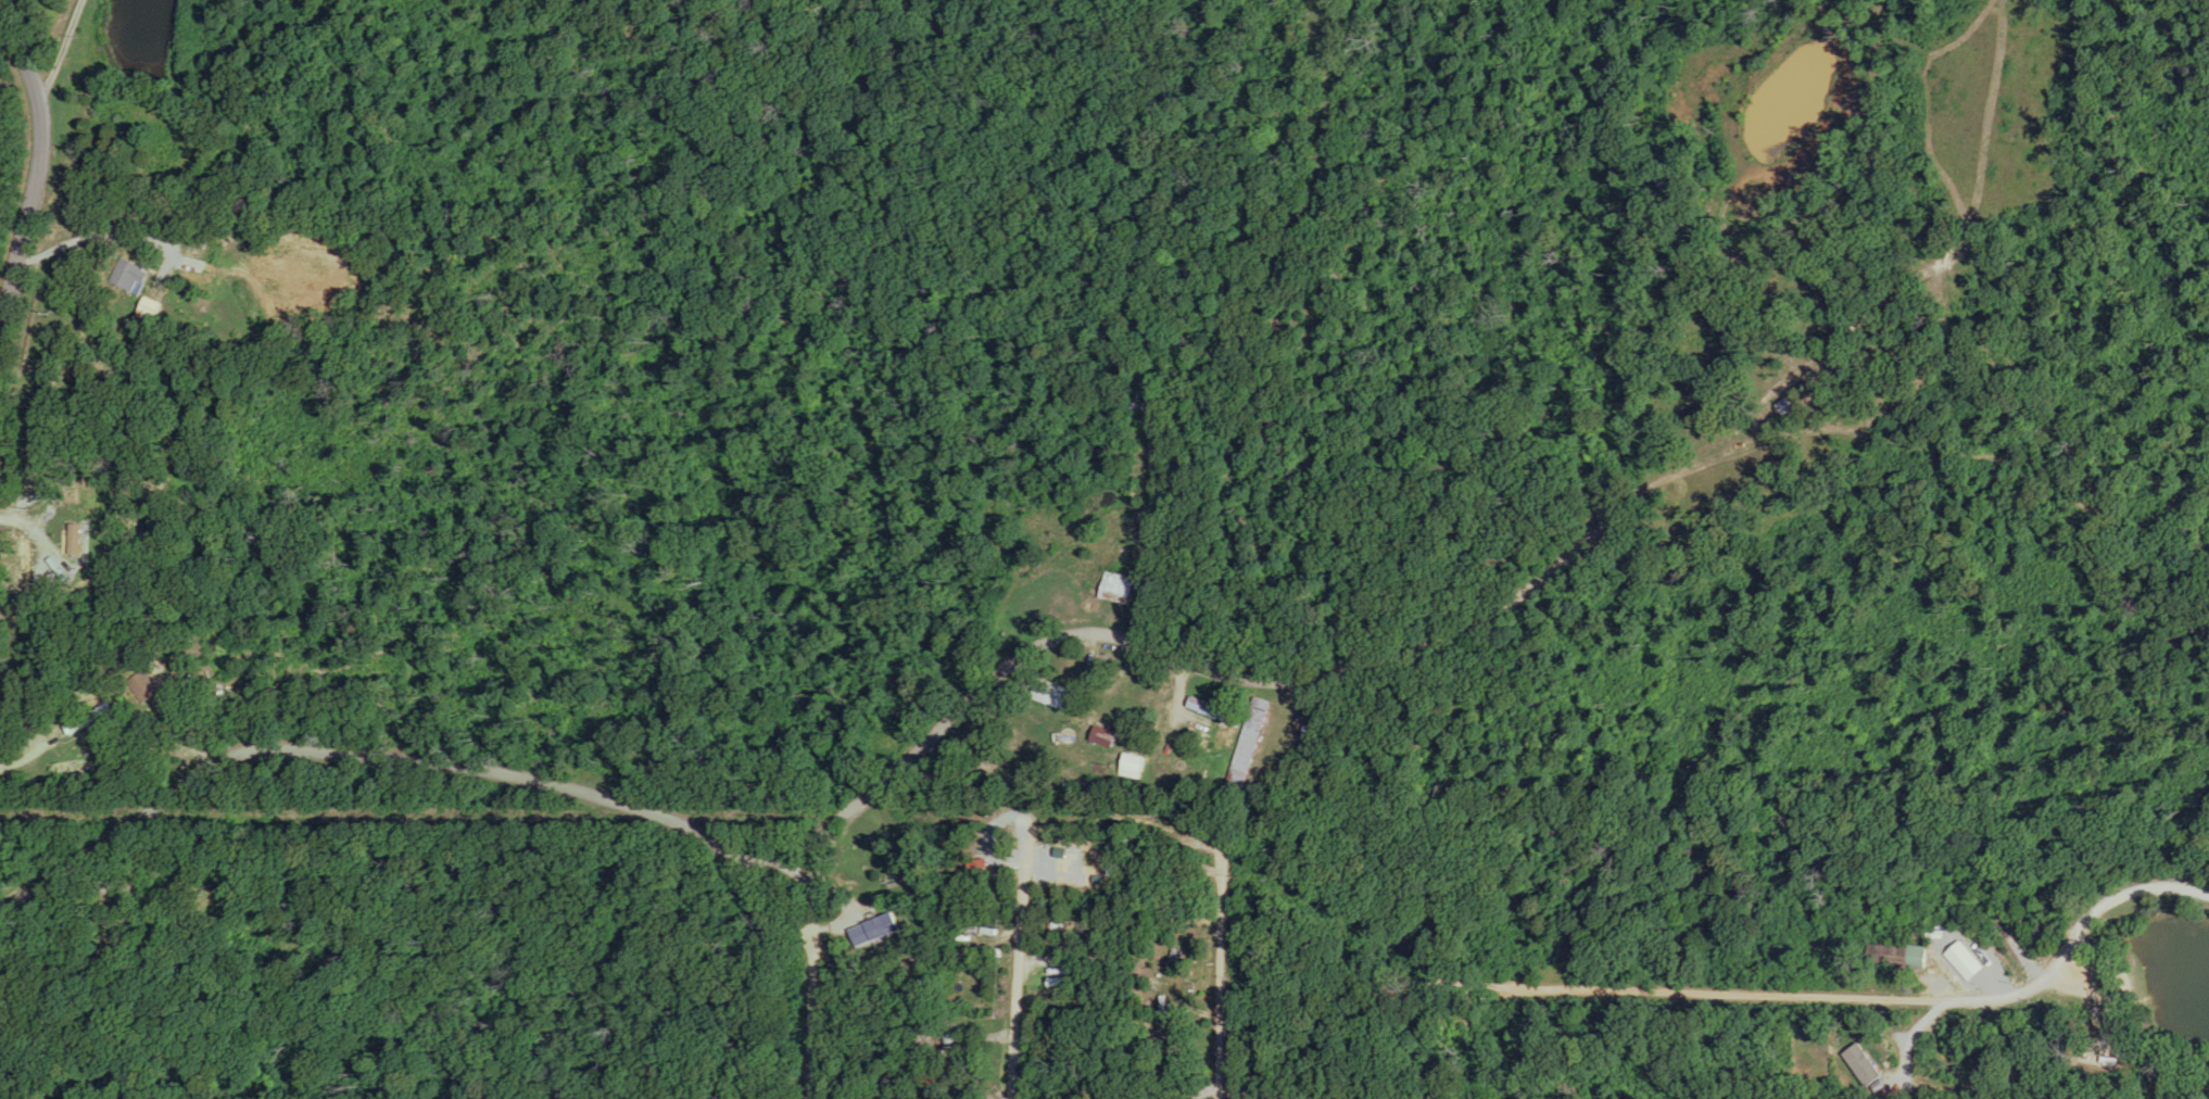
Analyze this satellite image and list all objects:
road: (64, 60)
road: (207, 109)
road: (35, 161)
building: (156, 310)
road: (35, 534)
building: (1119, 588)
road: (1239, 674)
building: (141, 687)
building: (1055, 695)
building: (1212, 711)
building: (1103, 737)
road: (373, 755)
building: (1131, 762)
road: (1125, 820)
building: (873, 931)
road: (811, 946)
building: (1922, 957)
building: (1966, 961)
road: (1020, 967)
road: (1223, 973)
road: (1892, 985)

